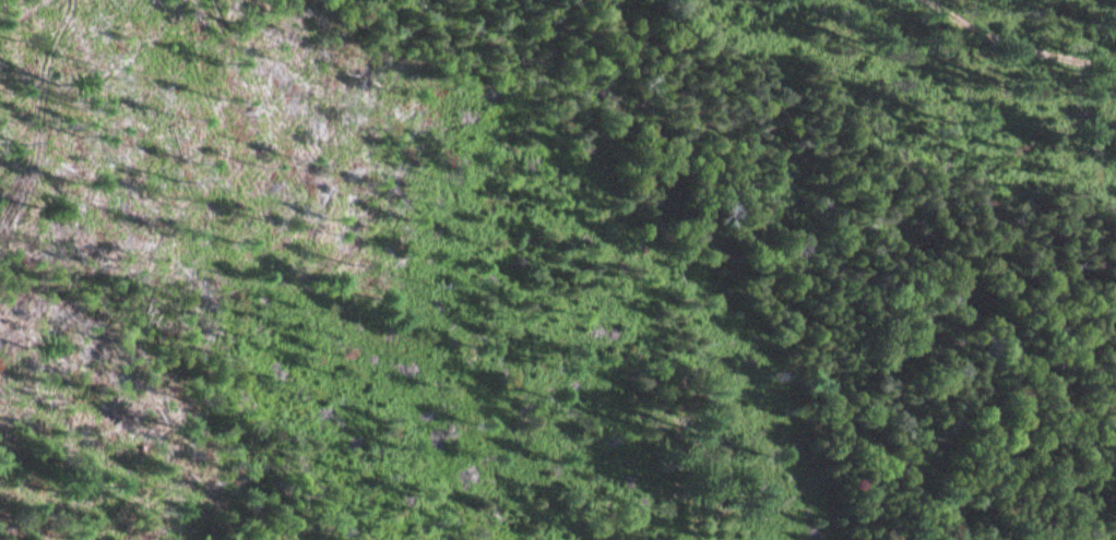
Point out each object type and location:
road: (1011, 47)

